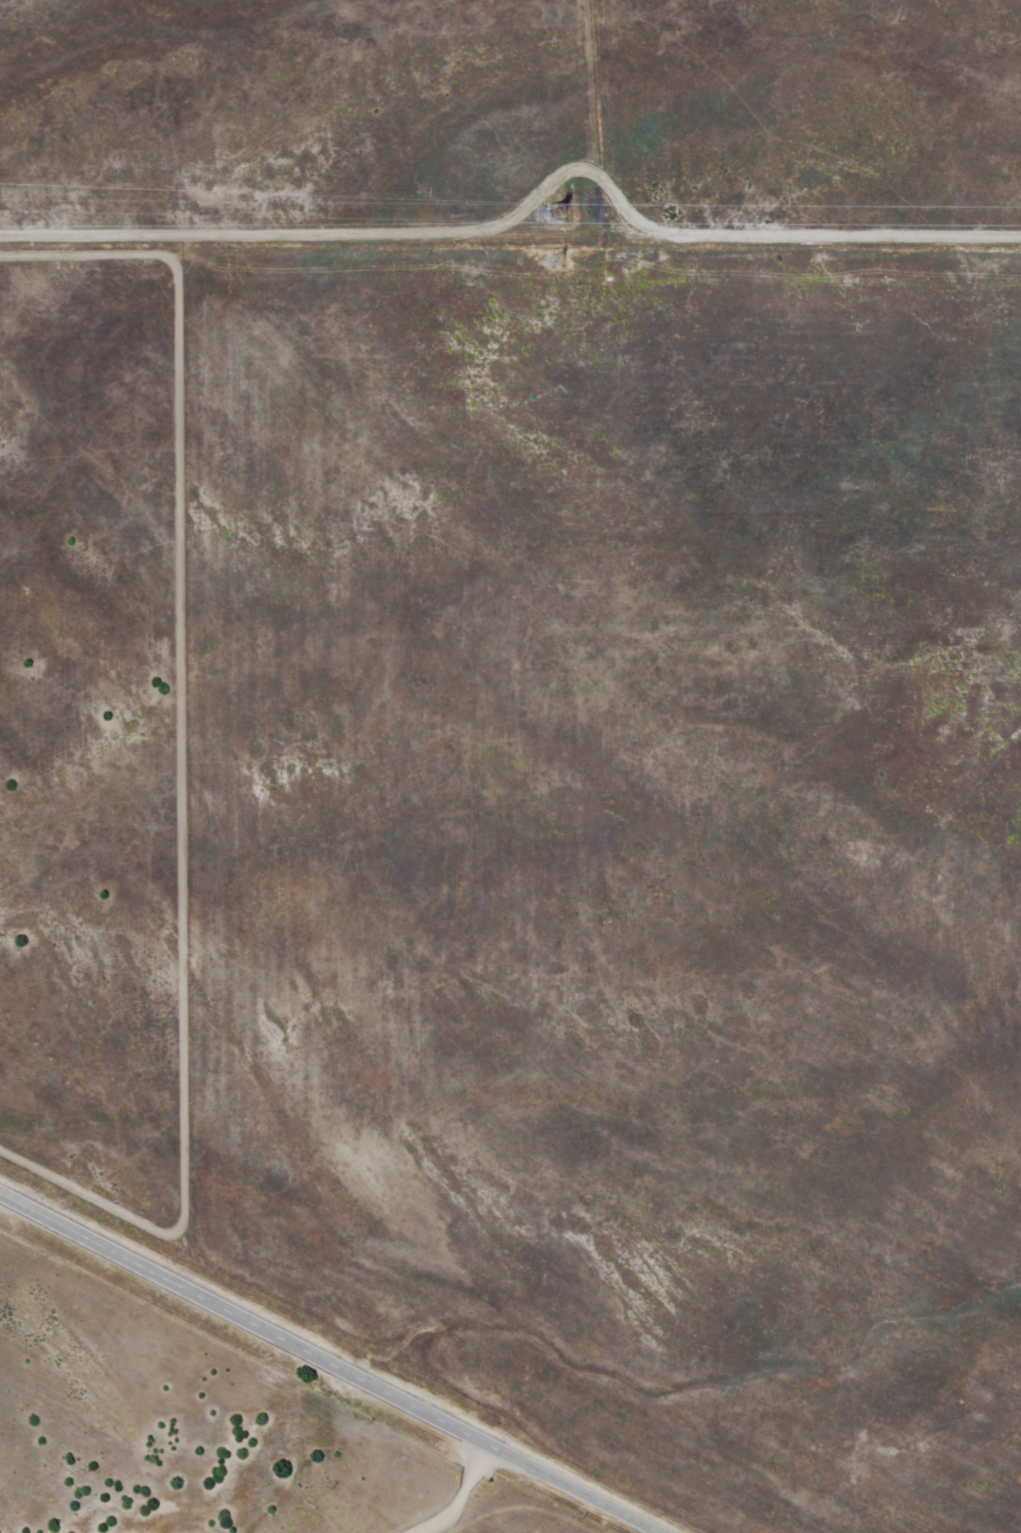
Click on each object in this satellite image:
power tower: (554, 214)
power tower: (558, 263)
road: (330, 1361)
road: (461, 1496)

